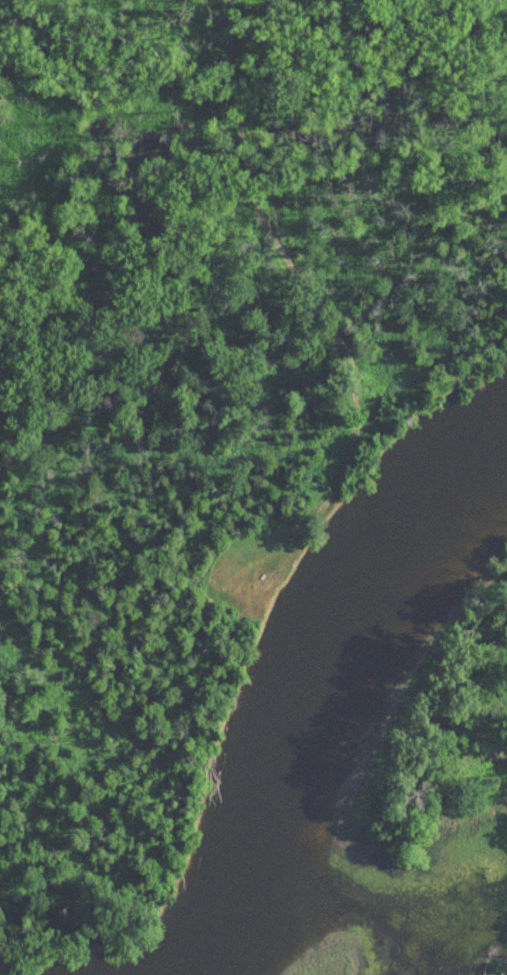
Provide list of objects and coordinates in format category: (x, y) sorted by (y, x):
river: (325, 703)

